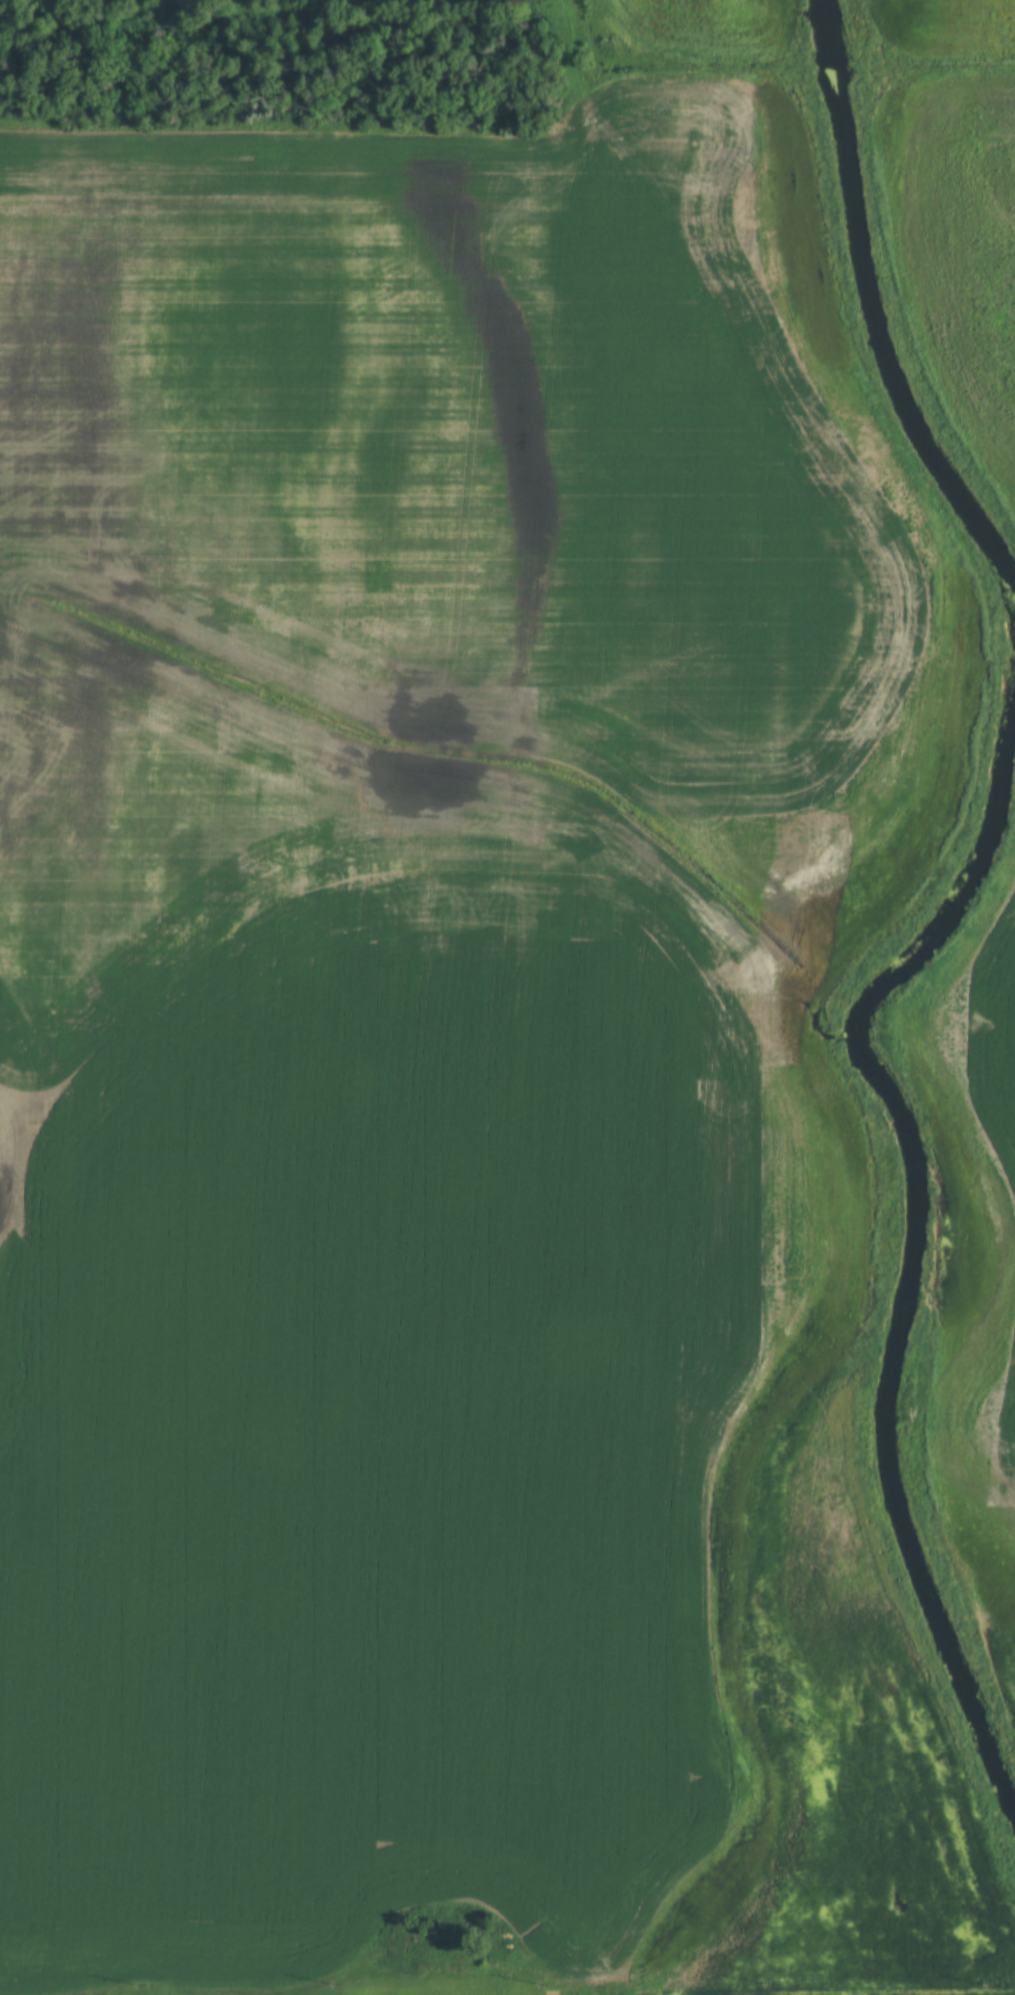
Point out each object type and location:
crop: (950, 25)
crop: (701, 27)
crop: (957, 247)
crop: (426, 1007)
crop: (972, 1230)

